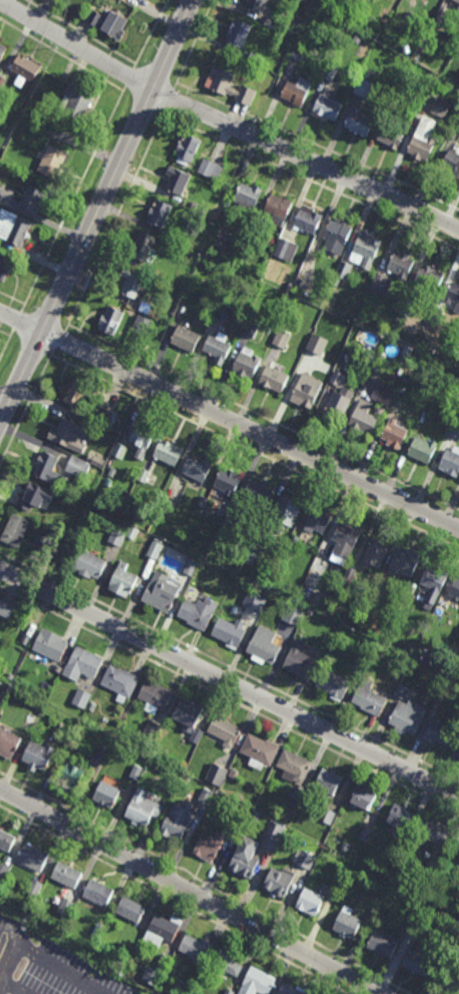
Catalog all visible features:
building: (306, 0)
building: (256, 5)
building: (457, 8)
building: (397, 17)
building: (442, 17)
building: (110, 23)
building: (272, 23)
building: (238, 33)
road: (151, 35)
road: (76, 44)
road: (194, 44)
building: (299, 46)
building: (2, 50)
building: (296, 56)
building: (255, 58)
building: (25, 66)
building: (357, 66)
building: (440, 68)
building: (330, 70)
building: (365, 73)
building: (229, 85)
building: (363, 87)
building: (297, 91)
building: (75, 101)
building: (436, 104)
building: (328, 105)
building: (458, 121)
building: (359, 122)
building: (392, 133)
building: (423, 139)
building: (187, 148)
road: (306, 158)
building: (52, 161)
building: (450, 164)
building: (210, 169)
building: (178, 178)
building: (34, 197)
building: (247, 197)
road: (72, 200)
building: (191, 203)
road: (95, 206)
building: (277, 209)
building: (159, 213)
building: (307, 219)
road: (115, 221)
building: (13, 226)
building: (180, 236)
building: (336, 236)
building: (142, 247)
building: (222, 249)
building: (285, 249)
building: (365, 249)
building: (401, 264)
building: (5, 265)
building: (188, 274)
building: (244, 277)
building: (429, 277)
building: (336, 281)
building: (381, 283)
building: (134, 284)
building: (162, 284)
building: (288, 285)
building: (299, 286)
building: (453, 296)
building: (407, 305)
building: (224, 312)
building: (351, 312)
building: (435, 313)
building: (253, 315)
building: (111, 321)
road: (16, 322)
building: (383, 324)
building: (143, 325)
building: (250, 329)
building: (458, 331)
building: (281, 338)
building: (186, 339)
road: (59, 341)
road: (6, 344)
building: (317, 344)
building: (218, 349)
building: (348, 358)
building: (246, 363)
building: (274, 377)
building: (393, 377)
building: (338, 378)
building: (383, 391)
building: (76, 393)
building: (304, 393)
building: (338, 403)
road: (27, 408)
building: (423, 415)
building: (105, 416)
building: (365, 416)
road: (229, 419)
building: (454, 426)
building: (393, 433)
building: (66, 434)
building: (141, 440)
building: (422, 448)
building: (118, 450)
building: (167, 451)
building: (100, 461)
building: (450, 461)
building: (45, 465)
building: (77, 467)
building: (195, 470)
building: (142, 474)
building: (227, 480)
building: (257, 492)
building: (34, 494)
building: (167, 506)
building: (284, 512)
building: (230, 515)
building: (318, 519)
building: (49, 520)
building: (15, 529)
building: (121, 535)
building: (345, 539)
building: (293, 540)
building: (44, 543)
building: (155, 547)
building: (255, 548)
building: (374, 553)
building: (405, 561)
building: (89, 562)
building: (190, 566)
building: (347, 576)
building: (123, 580)
building: (434, 581)
building: (455, 587)
building: (378, 588)
building: (161, 591)
building: (255, 598)
building: (6, 608)
building: (439, 610)
building: (197, 611)
building: (292, 614)
building: (229, 631)
building: (458, 637)
building: (25, 639)
building: (50, 644)
building: (263, 645)
building: (410, 646)
building: (301, 660)
building: (361, 660)
building: (401, 663)
building: (82, 664)
building: (10, 675)
building: (120, 681)
road: (229, 682)
building: (333, 683)
building: (402, 691)
building: (155, 696)
building: (81, 698)
building: (368, 698)
building: (91, 708)
building: (187, 712)
building: (408, 716)
building: (29, 720)
building: (111, 729)
building: (153, 729)
building: (225, 730)
building: (441, 733)
building: (196, 734)
building: (8, 742)
building: (259, 748)
building: (101, 753)
building: (39, 755)
building: (294, 766)
building: (137, 771)
building: (73, 773)
building: (216, 773)
building: (233, 773)
building: (328, 781)
building: (107, 794)
building: (205, 796)
building: (363, 796)
building: (295, 800)
building: (143, 809)
building: (255, 814)
building: (330, 816)
building: (400, 816)
building: (178, 821)
building: (237, 826)
building: (434, 830)
building: (365, 833)
building: (6, 840)
building: (456, 845)
building: (209, 846)
building: (346, 846)
building: (256, 848)
building: (33, 856)
building: (304, 857)
building: (436, 859)
building: (3, 871)
building: (67, 875)
building: (279, 881)
building: (338, 883)
building: (34, 887)
road: (189, 891)
building: (97, 892)
road: (173, 900)
building: (311, 901)
building: (66, 907)
building: (131, 910)
building: (372, 912)
building: (409, 916)
building: (347, 922)
building: (443, 928)
building: (98, 929)
building: (458, 929)
building: (163, 930)
building: (382, 943)
road: (12, 945)
building: (196, 949)
building: (227, 962)
building: (418, 963)
building: (173, 965)
building: (156, 971)
building: (449, 980)
building: (259, 981)
building: (291, 989)
building: (228, 991)

